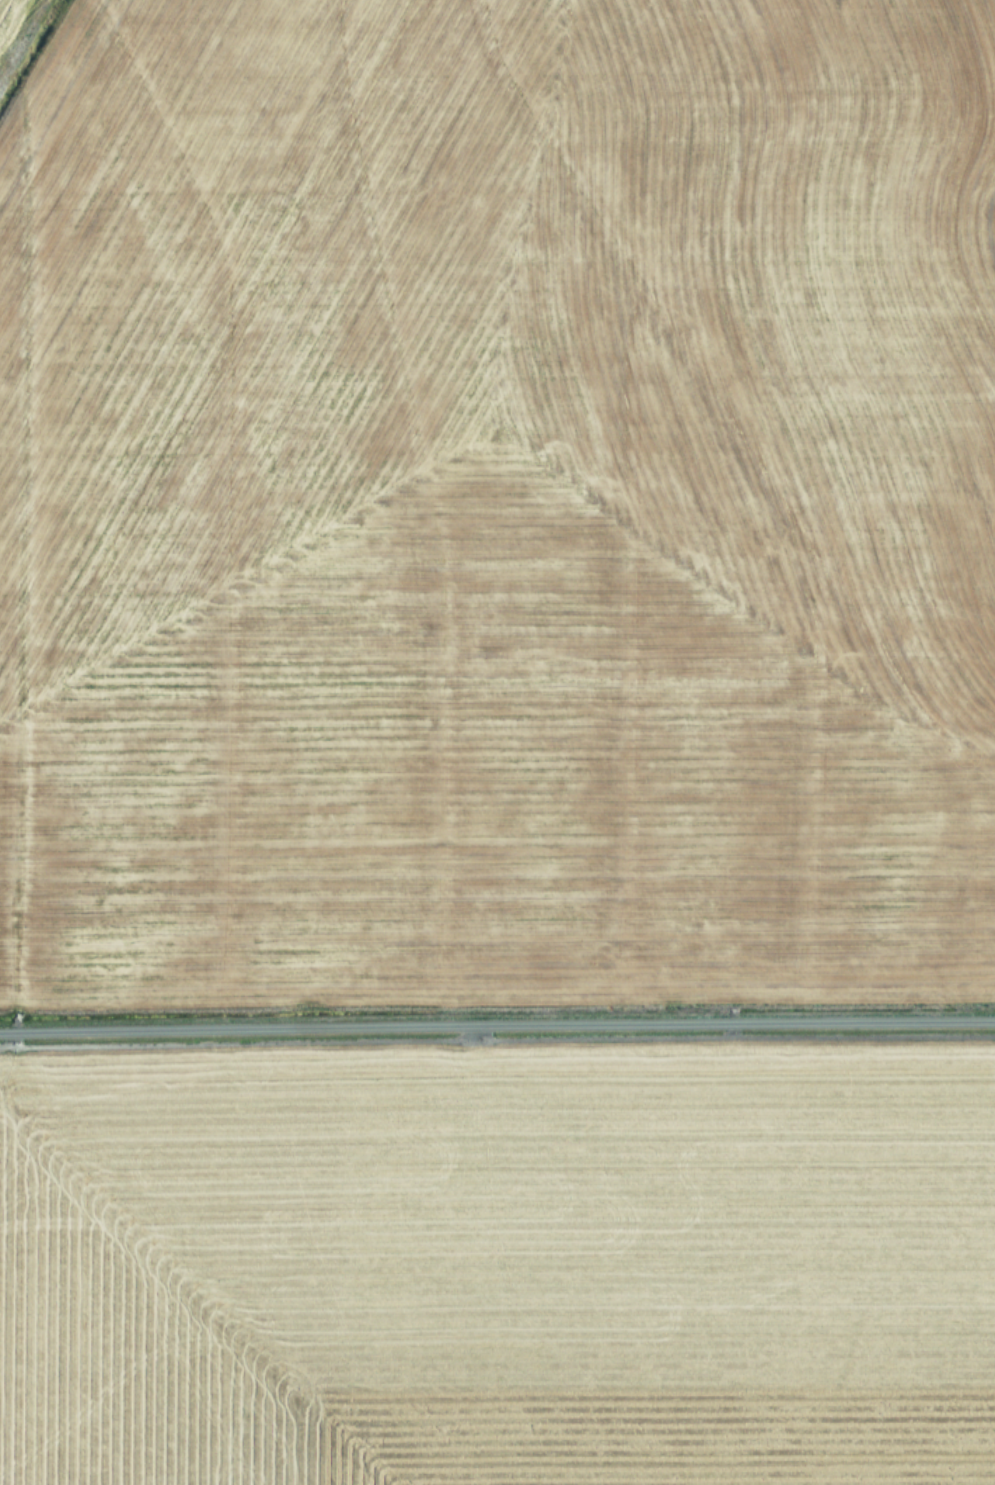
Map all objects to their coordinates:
crop: (497, 742)
road: (497, 1024)

